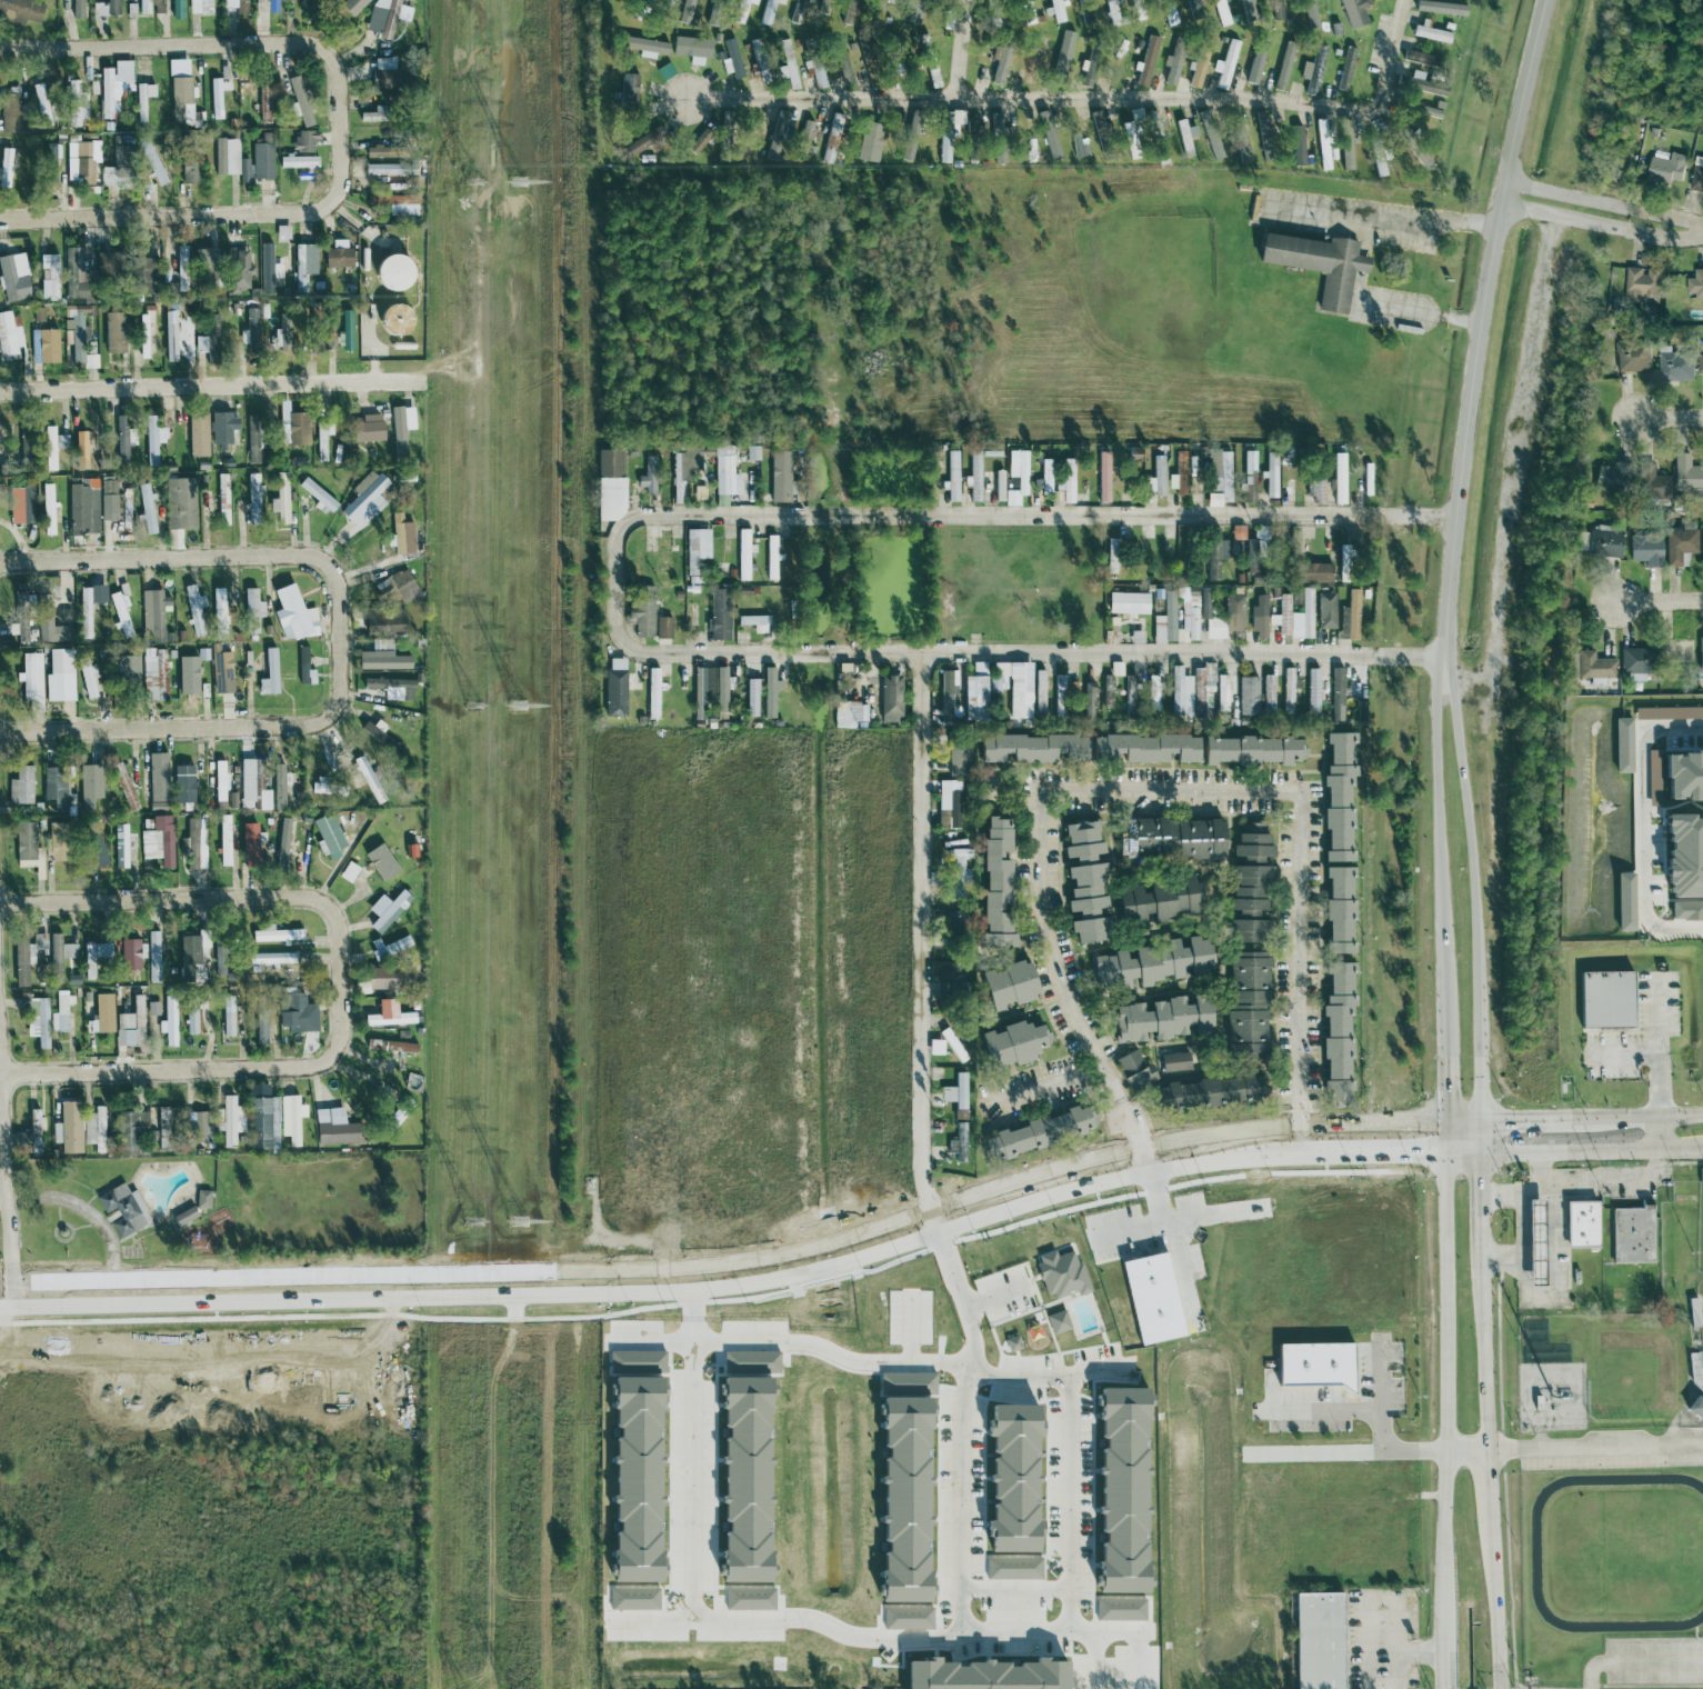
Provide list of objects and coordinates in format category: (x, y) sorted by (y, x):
building: (408, 0)
building: (884, 1)
building: (689, 4)
building: (237, 6)
building: (259, 6)
building: (351, 6)
building: (158, 7)
building: (200, 7)
building: (271, 7)
building: (106, 8)
building: (143, 8)
building: (1441, 8)
building: (177, 9)
building: (1191, 9)
building: (77, 10)
building: (131, 10)
building: (742, 10)
building: (20, 11)
building: (769, 11)
building: (798, 11)
building: (1056, 11)
building: (848, 12)
building: (1028, 12)
building: (1114, 12)
building: (1166, 12)
building: (1220, 12)
building: (1354, 13)
building: (1278, 14)
building: (384, 17)
building: (1431, 34)
road: (204, 46)
building: (644, 48)
road: (961, 49)
building: (692, 50)
building: (1063, 51)
building: (1038, 52)
building: (760, 59)
building: (1421, 59)
building: (1146, 61)
building: (928, 62)
building: (1254, 62)
building: (841, 63)
building: (787, 64)
building: (999, 64)
building: (1173, 66)
building: (1224, 66)
building: (177, 67)
building: (1283, 67)
building: (1198, 69)
building: (1345, 69)
building: (1313, 70)
building: (224, 72)
building: (1086, 72)
building: (817, 73)
building: (384, 74)
building: (1421, 84)
building: (113, 88)
building: (628, 92)
building: (217, 97)
building: (264, 97)
building: (142, 100)
building: (180, 100)
road: (1093, 100)
building: (300, 101)
building: (41, 104)
building: (76, 106)
building: (9, 110)
building: (372, 116)
building: (1135, 116)
building: (1204, 119)
building: (1098, 122)
building: (833, 132)
building: (948, 132)
building: (1128, 133)
building: (1266, 133)
building: (998, 134)
building: (1049, 136)
building: (778, 137)
building: (1185, 137)
building: (804, 139)
building: (911, 139)
building: (304, 141)
building: (699, 142)
building: (869, 142)
building: (640, 144)
building: (1323, 144)
building: (1241, 146)
building: (1298, 146)
building: (1344, 146)
building: (1079, 147)
building: (1214, 147)
building: (377, 151)
building: (226, 157)
building: (1421, 157)
building: (258, 161)
building: (298, 161)
building: (49, 162)
building: (79, 162)
building: (189, 166)
building: (4, 167)
building: (1379, 168)
building: (1667, 168)
building: (120, 169)
building: (389, 169)
building: (1697, 174)
power tower: (473, 178)
power tower: (521, 184)
building: (393, 203)
road: (1606, 204)
road: (203, 217)
road: (1388, 217)
road: (1603, 229)
building: (282, 232)
building: (338, 254)
building: (109, 263)
building: (1318, 264)
building: (203, 266)
building: (303, 266)
building: (181, 269)
building: (268, 269)
building: (239, 272)
building: (391, 272)
building: (76, 274)
building: (140, 274)
building: (13, 278)
building: (50, 279)
building: (1642, 284)
building: (1695, 284)
building: (392, 319)
road: (1484, 327)
building: (249, 328)
building: (77, 330)
building: (347, 330)
building: (282, 331)
building: (113, 332)
building: (208, 336)
building: (9, 337)
building: (170, 337)
building: (330, 338)
building: (43, 346)
building: (1633, 357)
building: (90, 361)
building: (1701, 363)
building: (1675, 366)
road: (212, 388)
road: (1671, 418)
building: (293, 427)
building: (401, 427)
building: (222, 429)
building: (367, 430)
building: (197, 434)
building: (284, 434)
building: (252, 439)
building: (121, 440)
building: (321, 440)
building: (61, 441)
building: (152, 441)
building: (23, 447)
building: (49, 448)
building: (80, 450)
building: (752, 453)
building: (1133, 453)
building: (1220, 473)
building: (1270, 473)
building: (1686, 473)
building: (648, 476)
building: (952, 476)
building: (1103, 476)
building: (1158, 476)
building: (1609, 476)
building: (727, 477)
building: (780, 477)
building: (975, 477)
building: (1016, 477)
building: (1045, 477)
building: (1249, 477)
building: (1339, 479)
building: (1366, 479)
building: (1068, 481)
building: (1652, 483)
building: (609, 484)
building: (999, 486)
building: (1315, 488)
building: (317, 494)
building: (222, 499)
building: (253, 499)
building: (281, 499)
building: (108, 500)
building: (364, 500)
building: (180, 503)
building: (20, 504)
building: (123, 506)
building: (83, 508)
building: (47, 509)
building: (147, 509)
road: (1009, 516)
building: (1238, 532)
building: (400, 536)
building: (1604, 541)
building: (1680, 544)
building: (1702, 547)
building: (1646, 549)
building: (1254, 550)
building: (695, 551)
building: (743, 554)
building: (1111, 556)
road: (206, 557)
building: (771, 558)
building: (1215, 558)
building: (1315, 573)
building: (402, 587)
road: (1659, 601)
building: (1128, 603)
building: (88, 607)
building: (194, 609)
building: (40, 610)
building: (641, 610)
building: (1326, 610)
building: (251, 611)
building: (119, 612)
building: (365, 612)
building: (1233, 612)
building: (219, 613)
building: (1189, 613)
building: (293, 614)
building: (719, 614)
building: (1283, 614)
building: (153, 616)
building: (1350, 617)
building: (1302, 618)
building: (1211, 620)
building: (1272, 620)
building: (390, 621)
building: (754, 623)
building: (663, 628)
building: (21, 630)
road: (1012, 649)
building: (1700, 656)
building: (381, 658)
building: (1634, 663)
building: (1571, 666)
building: (303, 667)
building: (1594, 668)
building: (978, 669)
building: (128, 671)
building: (221, 673)
building: (154, 674)
building: (268, 674)
building: (59, 676)
building: (31, 677)
building: (88, 678)
building: (188, 678)
building: (998, 679)
building: (783, 686)
building: (391, 688)
building: (614, 688)
building: (721, 689)
building: (1203, 689)
building: (1019, 690)
building: (1106, 691)
building: (1225, 691)
building: (1288, 691)
building: (653, 692)
building: (1039, 692)
building: (1152, 692)
building: (1313, 692)
building: (703, 693)
building: (948, 693)
building: (1130, 693)
building: (1180, 693)
building: (1269, 694)
building: (1336, 694)
building: (769, 696)
building: (1059, 696)
building: (890, 697)
building: (752, 698)
building: (974, 699)
building: (1248, 700)
building: (1088, 701)
power tower: (473, 704)
power tower: (518, 710)
building: (849, 714)
road: (203, 729)
building: (380, 736)
building: (1623, 746)
building: (1032, 748)
building: (1144, 748)
building: (1252, 750)
building: (958, 760)
building: (1684, 774)
building: (368, 779)
building: (219, 781)
building: (250, 781)
building: (149, 784)
building: (182, 784)
building: (21, 786)
building: (89, 786)
building: (318, 786)
building: (124, 787)
building: (280, 787)
building: (56, 790)
road: (1154, 790)
building: (1338, 797)
road: (1445, 798)
building: (231, 800)
building: (263, 800)
building: (949, 804)
road: (1646, 828)
building: (1080, 832)
building: (327, 836)
building: (1168, 838)
building: (224, 840)
building: (158, 841)
building: (23, 842)
building: (282, 842)
building: (249, 843)
building: (1251, 843)
building: (194, 845)
building: (119, 846)
building: (96, 848)
building: (1082, 851)
building: (1683, 857)
building: (380, 862)
road: (1213, 866)
road: (1116, 867)
building: (348, 872)
building: (995, 883)
road: (1474, 888)
building: (1249, 891)
road: (206, 899)
building: (1159, 901)
building: (1086, 902)
building: (1625, 902)
building: (1339, 910)
building: (1686, 910)
building: (389, 912)
building: (952, 922)
building: (1245, 931)
building: (277, 935)
road: (1140, 939)
road: (930, 940)
building: (389, 948)
building: (188, 950)
building: (68, 951)
building: (129, 955)
building: (24, 956)
building: (93, 957)
building: (152, 957)
building: (271, 958)
building: (53, 959)
building: (1153, 963)
building: (380, 975)
building: (1008, 985)
building: (379, 988)
building: (949, 989)
road: (1445, 991)
building: (1610, 999)
road: (1226, 1000)
building: (1246, 1006)
building: (152, 1009)
building: (60, 1012)
building: (293, 1012)
building: (392, 1013)
building: (228, 1016)
building: (1162, 1019)
building: (37, 1021)
building: (130, 1023)
building: (169, 1023)
building: (1336, 1030)
building: (261, 1031)
road: (1196, 1041)
building: (1012, 1045)
building: (391, 1047)
building: (935, 1047)
road: (1657, 1051)
building: (959, 1055)
road: (1624, 1059)
building: (1174, 1062)
road: (200, 1070)
building: (1134, 1071)
road: (1049, 1081)
building: (955, 1092)
building: (1211, 1092)
traffic signals: (1445, 1096)
road: (1445, 1100)
building: (960, 1115)
building: (264, 1118)
road: (1643, 1119)
traffic signals: (1502, 1120)
road: (1515, 1120)
building: (232, 1121)
building: (294, 1121)
road: (1373, 1121)
building: (163, 1122)
building: (33, 1123)
building: (94, 1126)
building: (200, 1127)
building: (69, 1128)
building: (333, 1128)
building: (130, 1130)
road: (1219, 1131)
building: (1038, 1132)
road: (1657, 1137)
building: (21, 1138)
road: (1303, 1138)
building: (958, 1143)
road: (1340, 1155)
road: (1593, 1156)
traffic signals: (1423, 1157)
road: (1427, 1157)
road: (1143, 1159)
road: (1226, 1162)
traffic signals: (1483, 1176)
road: (1597, 1177)
road: (1531, 1188)
road: (1484, 1197)
building: (202, 1200)
road: (82, 1207)
building: (121, 1210)
building: (183, 1217)
power tower: (474, 1220)
power tower: (515, 1220)
road: (0, 1223)
building: (1584, 1223)
road: (1522, 1227)
building: (1634, 1236)
building: (1535, 1240)
road: (1, 1250)
park: (1701, 1259)
road: (577, 1269)
road: (1551, 1272)
building: (1061, 1275)
road: (695, 1277)
road: (582, 1291)
building: (1152, 1299)
road: (697, 1317)
building: (1058, 1322)
building: (751, 1362)
building: (1314, 1366)
road: (1447, 1385)
building: (1695, 1409)
road: (1322, 1416)
road: (1381, 1431)
road: (1596, 1448)
road: (1469, 1452)
road: (1322, 1459)
building: (744, 1478)
building: (1012, 1480)
road: (1491, 1481)
building: (903, 1487)
building: (1121, 1491)
building: (635, 1541)
track: (1536, 1555)
building: (1013, 1569)
road: (1070, 1571)
building: (633, 1599)
building: (749, 1599)
building: (1120, 1610)
road: (1371, 1613)
building: (908, 1618)
road: (712, 1626)
building: (1318, 1641)
road: (1445, 1650)
road: (1420, 1655)
road: (1635, 1659)
road: (1394, 1667)
building: (983, 1676)

